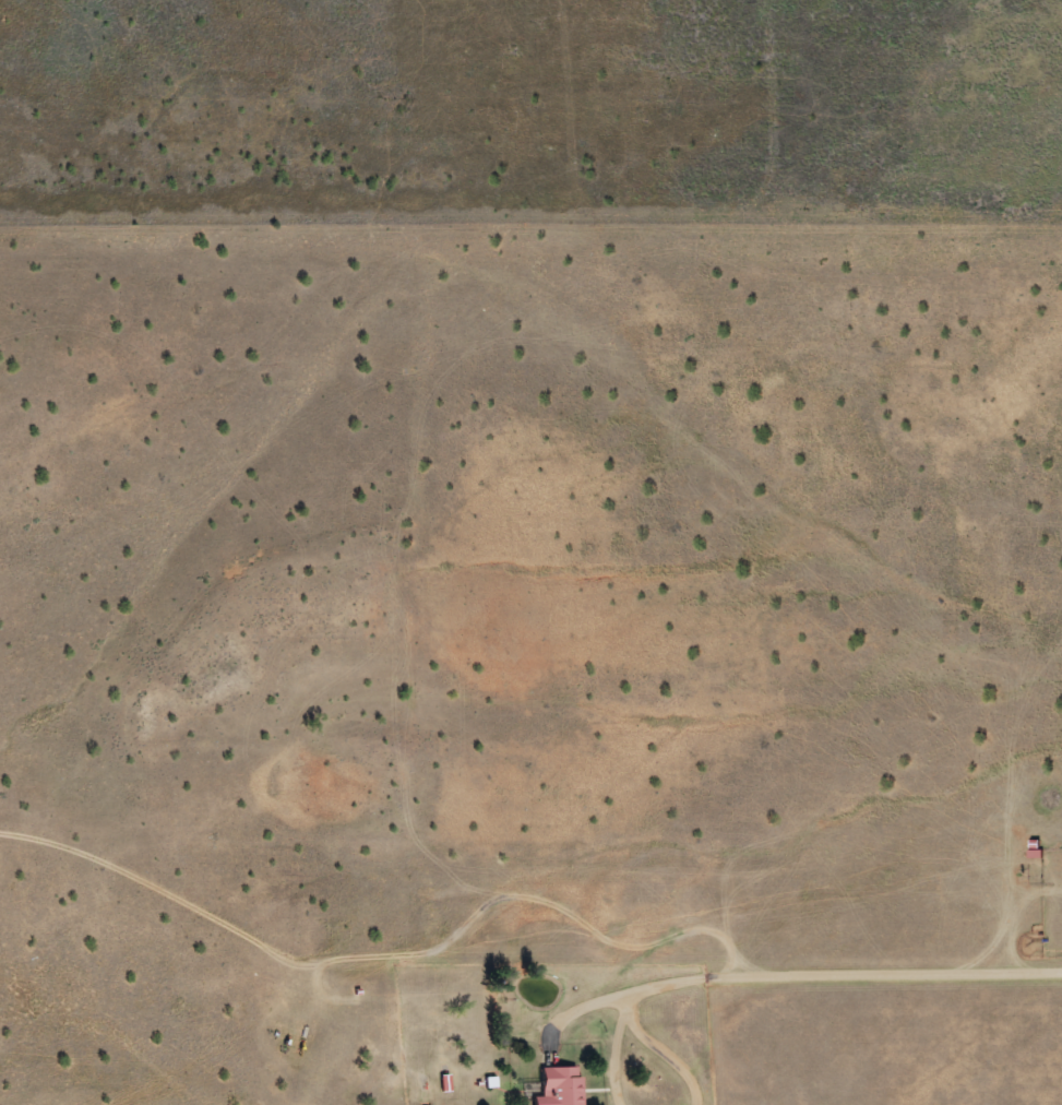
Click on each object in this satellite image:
building: (1036, 855)
road: (652, 1053)
building: (558, 1086)

